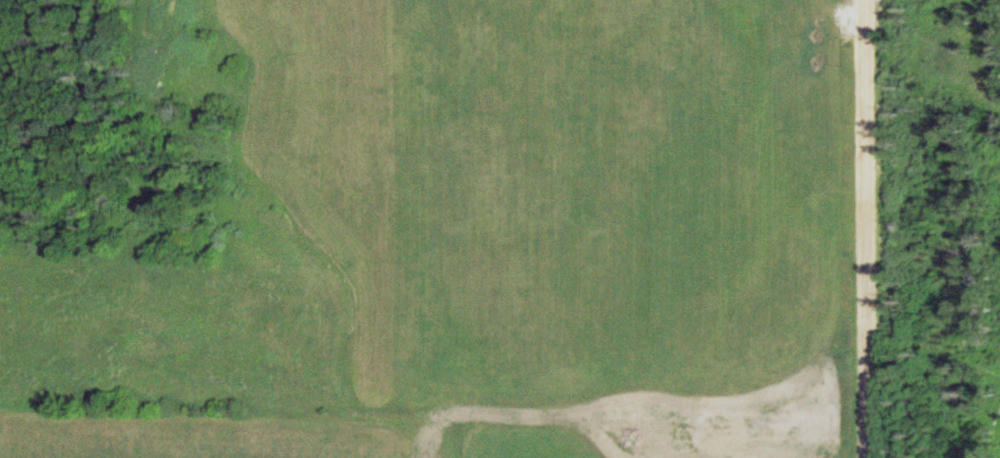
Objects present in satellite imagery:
road: (864, 229)

